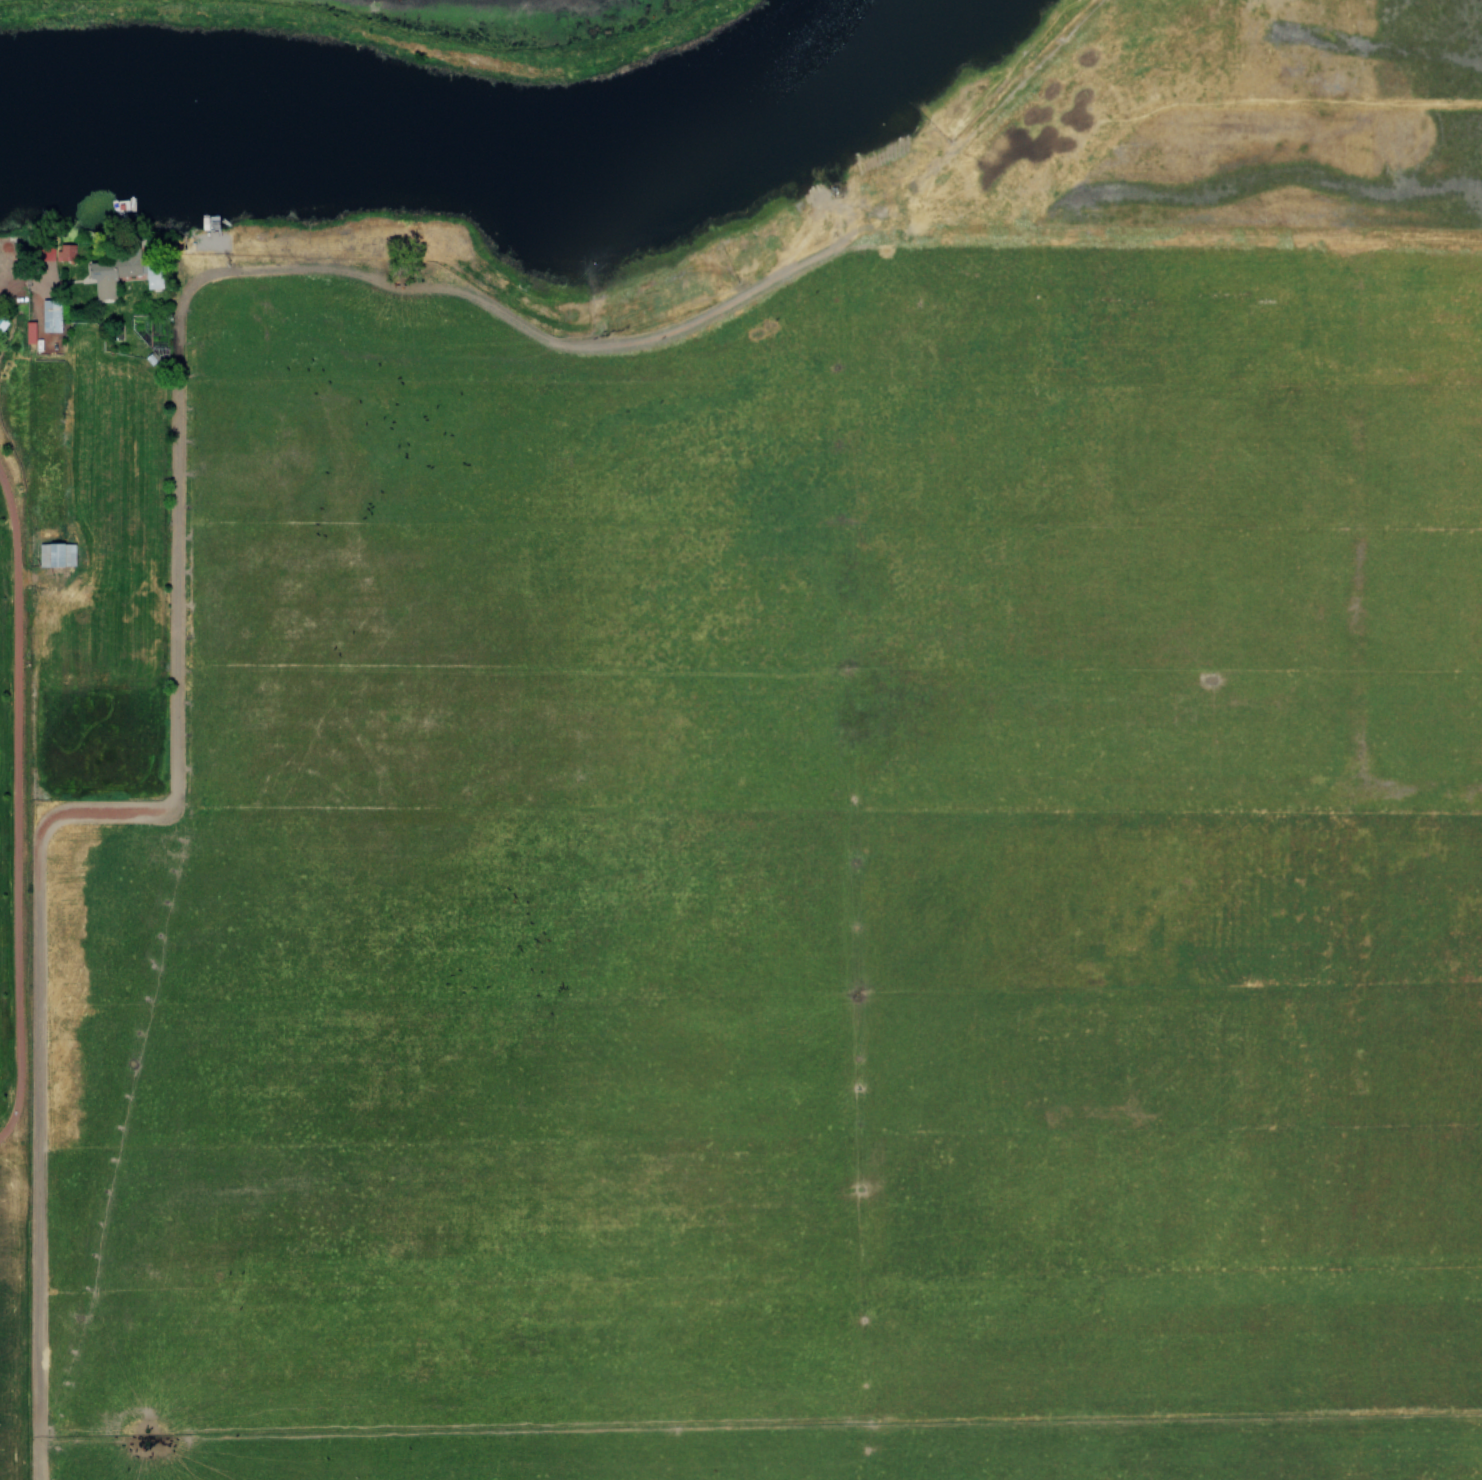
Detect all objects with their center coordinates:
river: (478, 165)
road: (18, 979)
road: (12, 1142)

